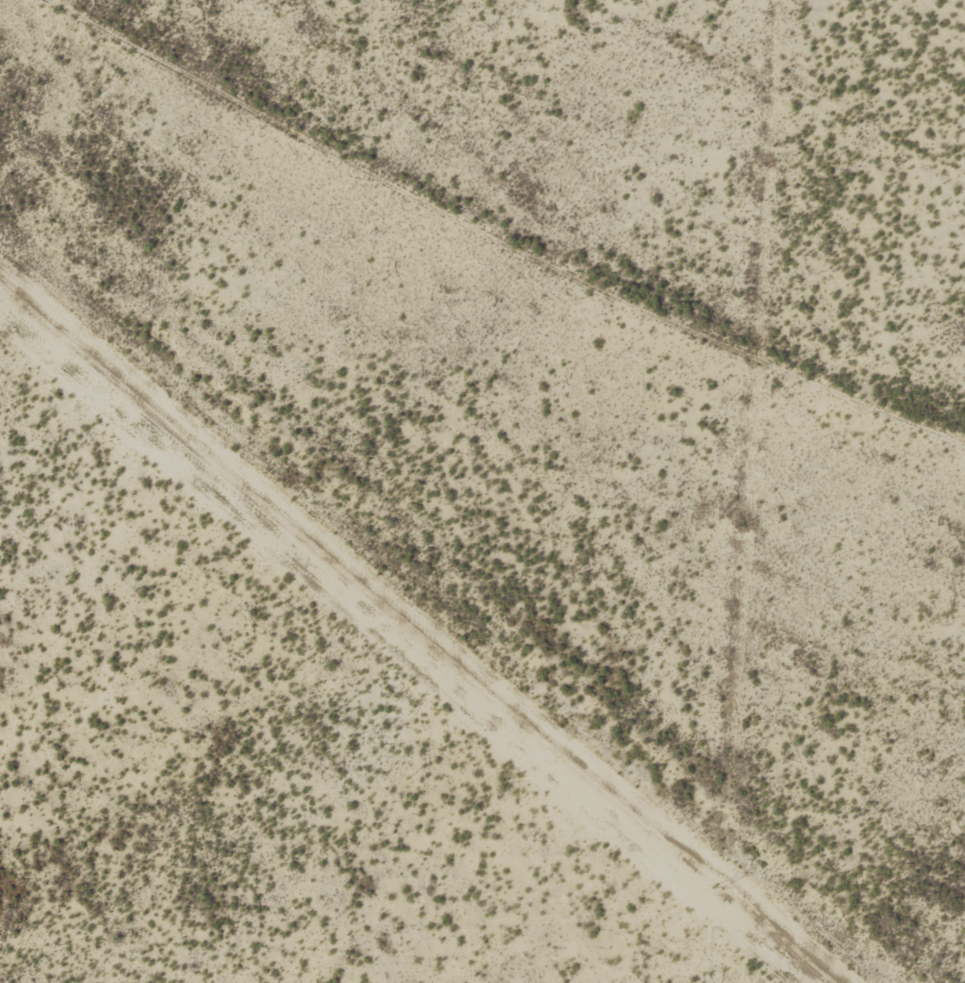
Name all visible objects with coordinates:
power tower: (760, 170)
power tower: (738, 528)
road: (417, 639)
power tower: (716, 888)

